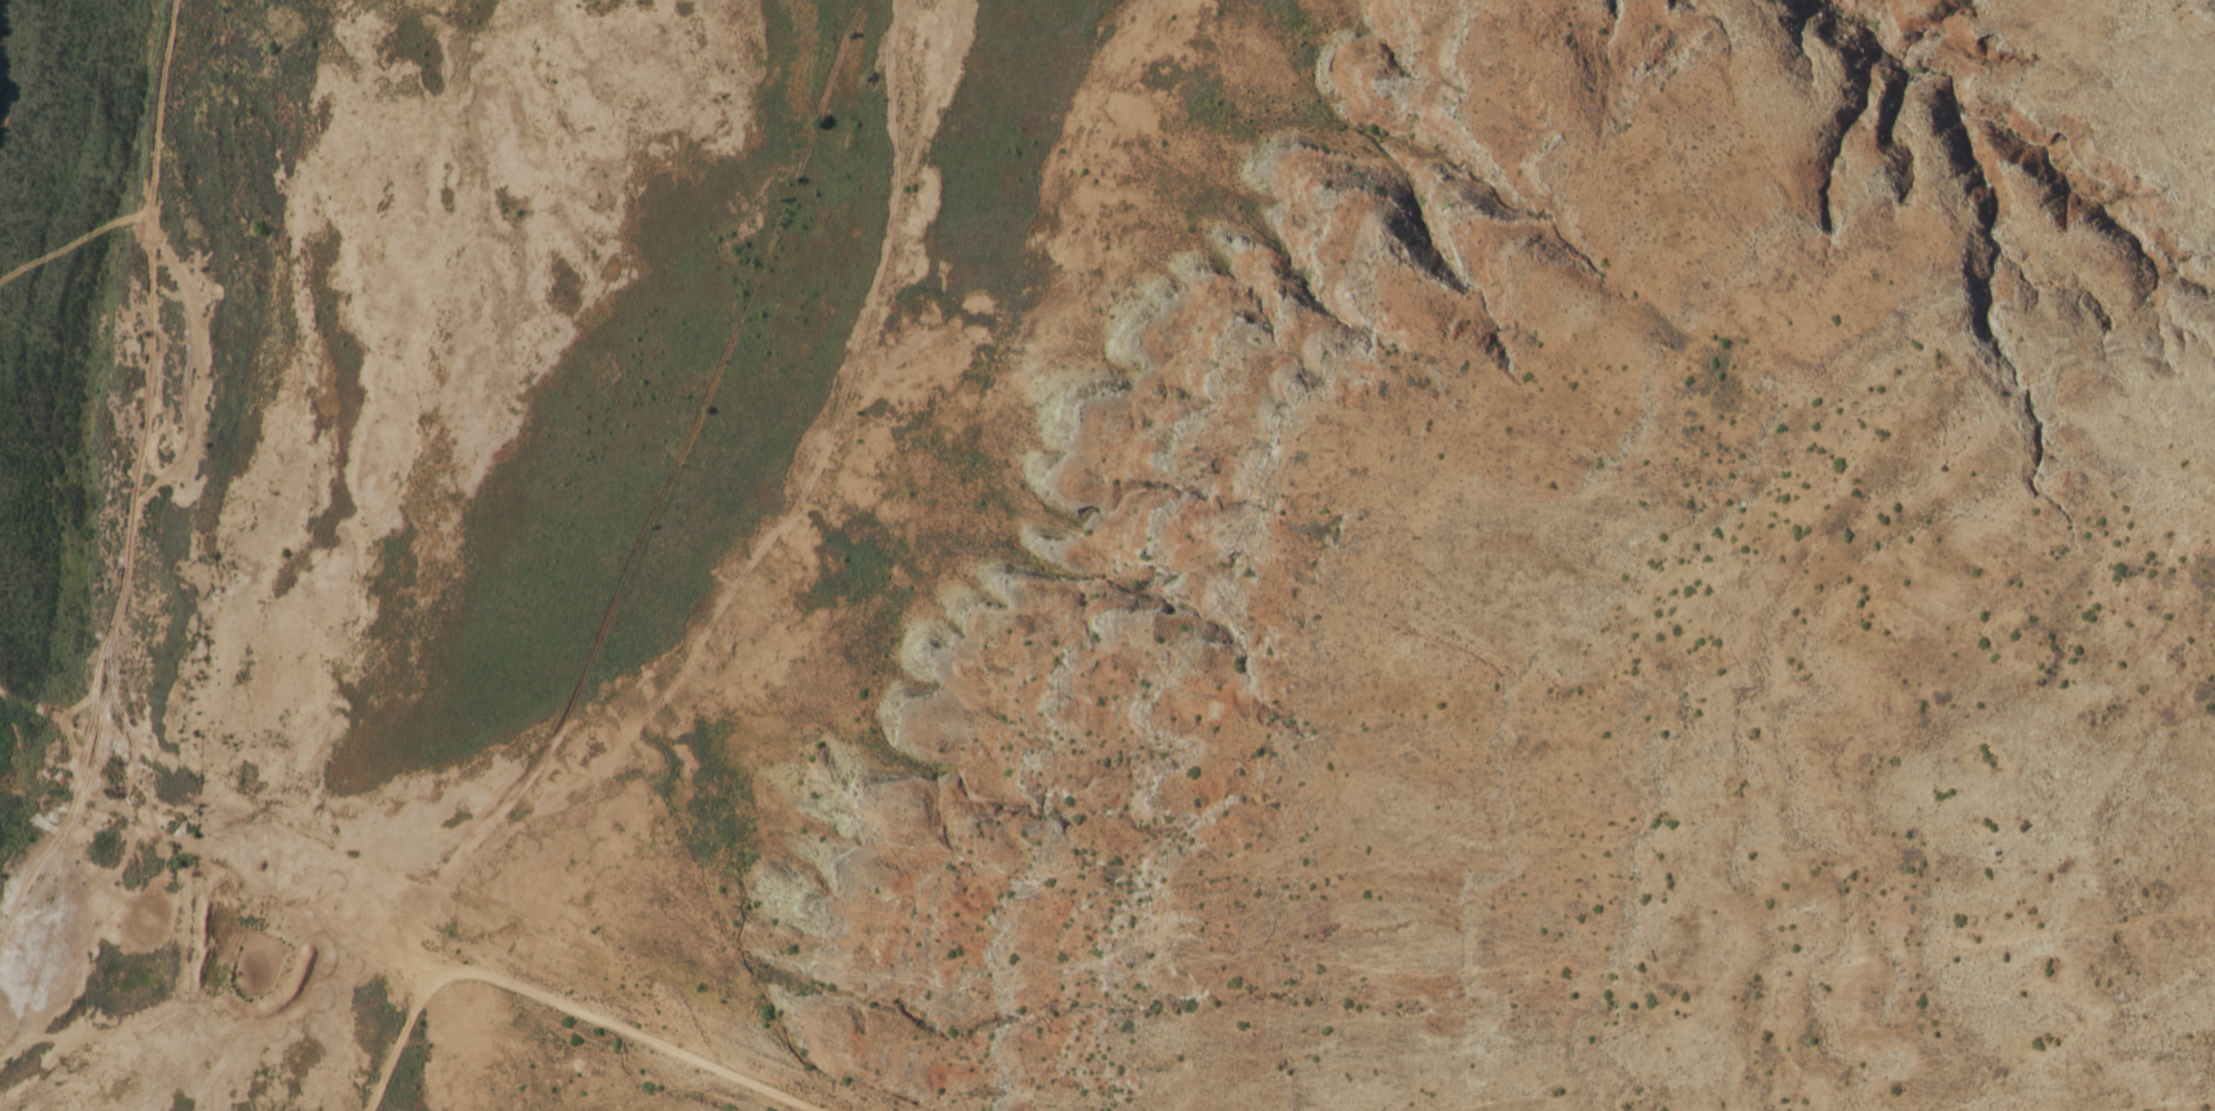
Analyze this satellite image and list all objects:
road: (841, 50)
road: (145, 379)
road: (399, 1039)
road: (594, 1039)

